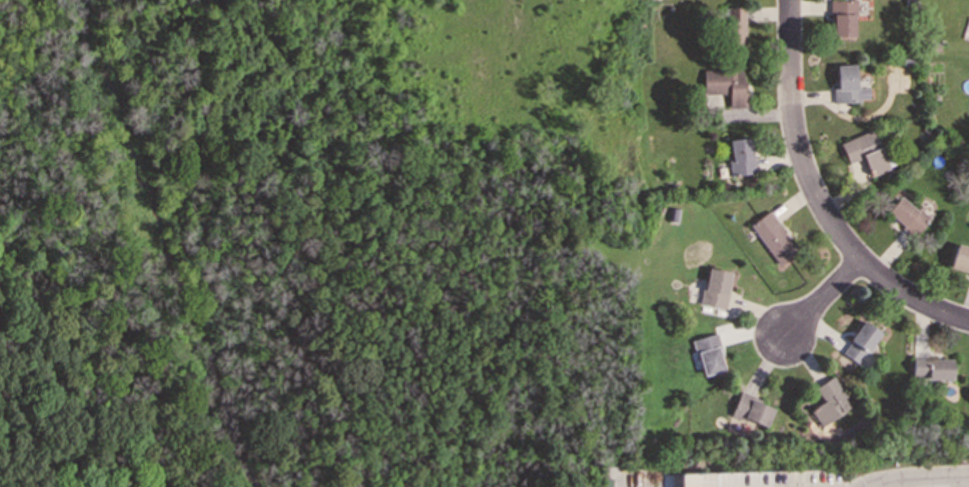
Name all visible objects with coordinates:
building: (842, 18)
building: (734, 26)
building: (725, 84)
building: (848, 85)
building: (865, 151)
building: (740, 156)
road: (816, 197)
building: (905, 215)
building: (772, 237)
building: (960, 258)
building: (715, 287)
road: (822, 299)
building: (861, 342)
building: (708, 354)
building: (932, 368)
building: (830, 401)
building: (752, 410)
road: (923, 477)
building: (710, 479)
building: (929, 486)

